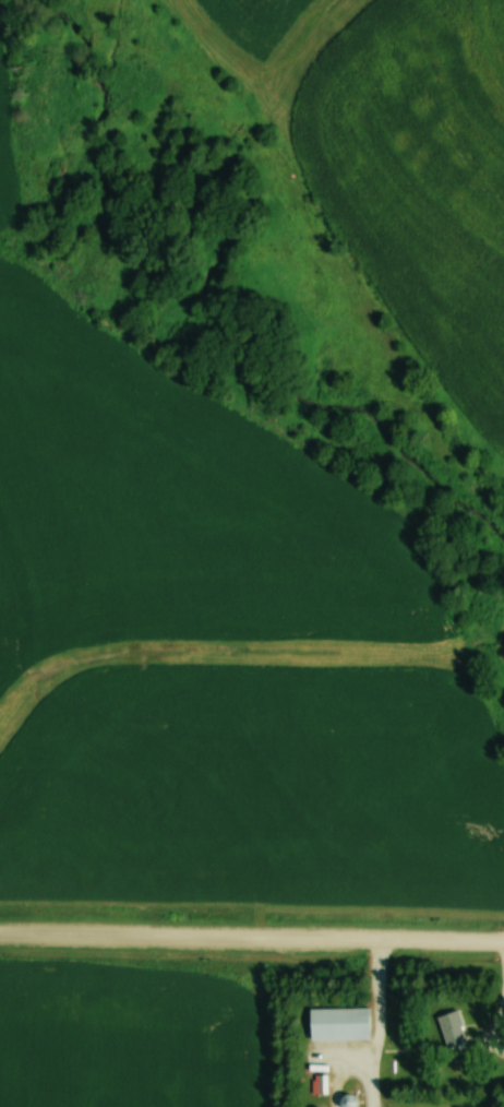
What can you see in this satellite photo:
road: (252, 936)
building: (338, 1023)
building: (452, 1031)

